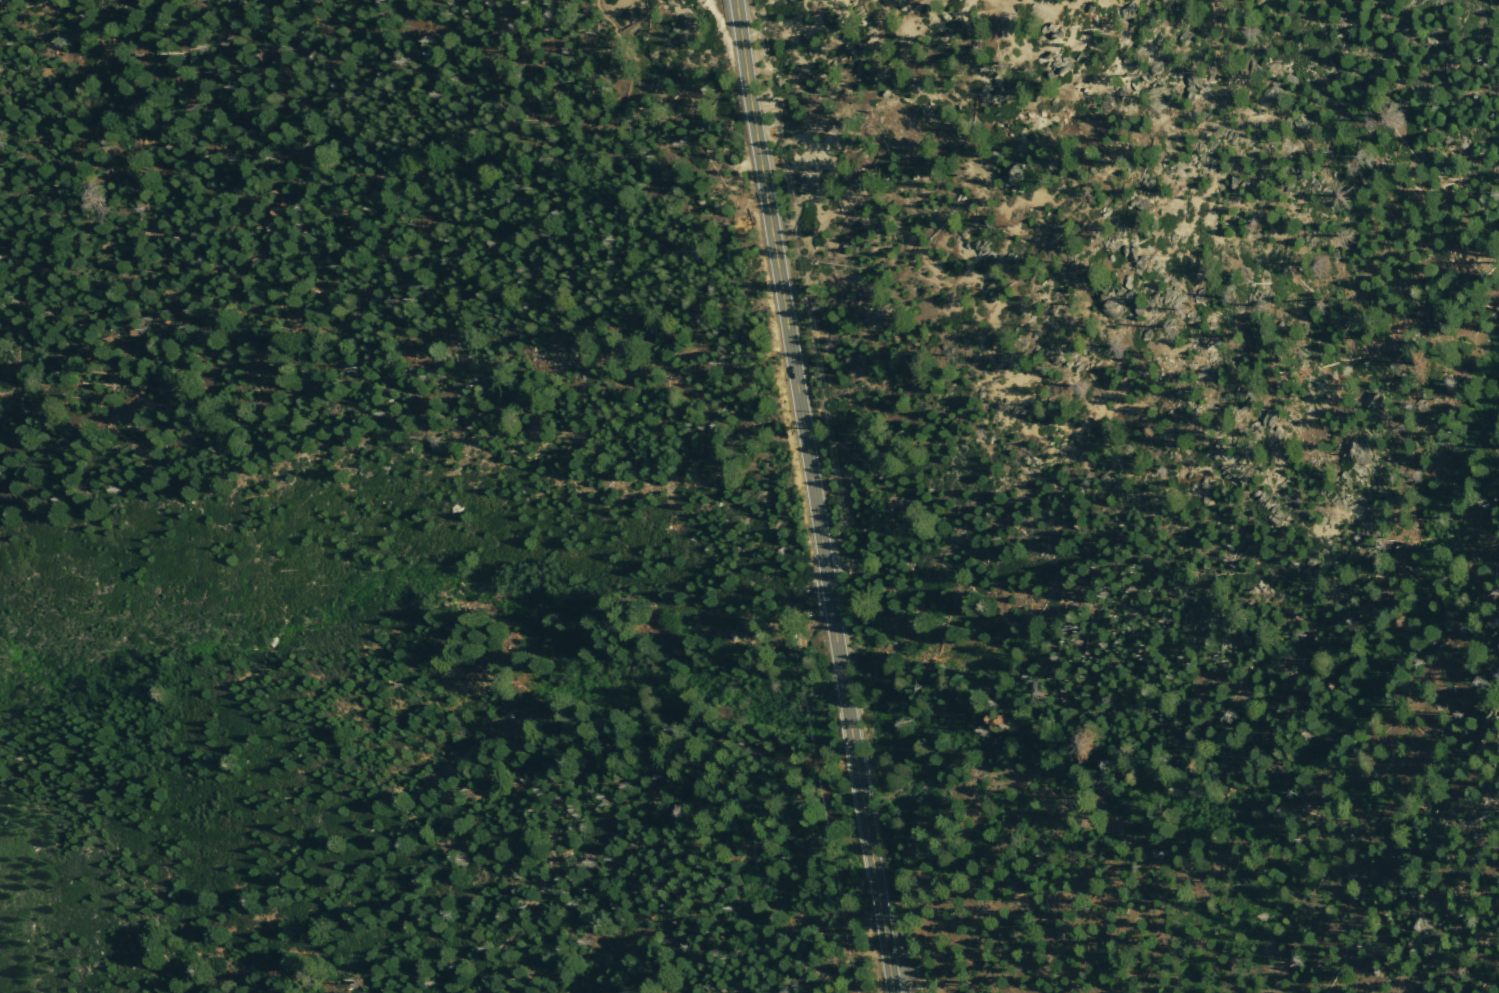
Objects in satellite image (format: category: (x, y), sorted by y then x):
road: (819, 497)

